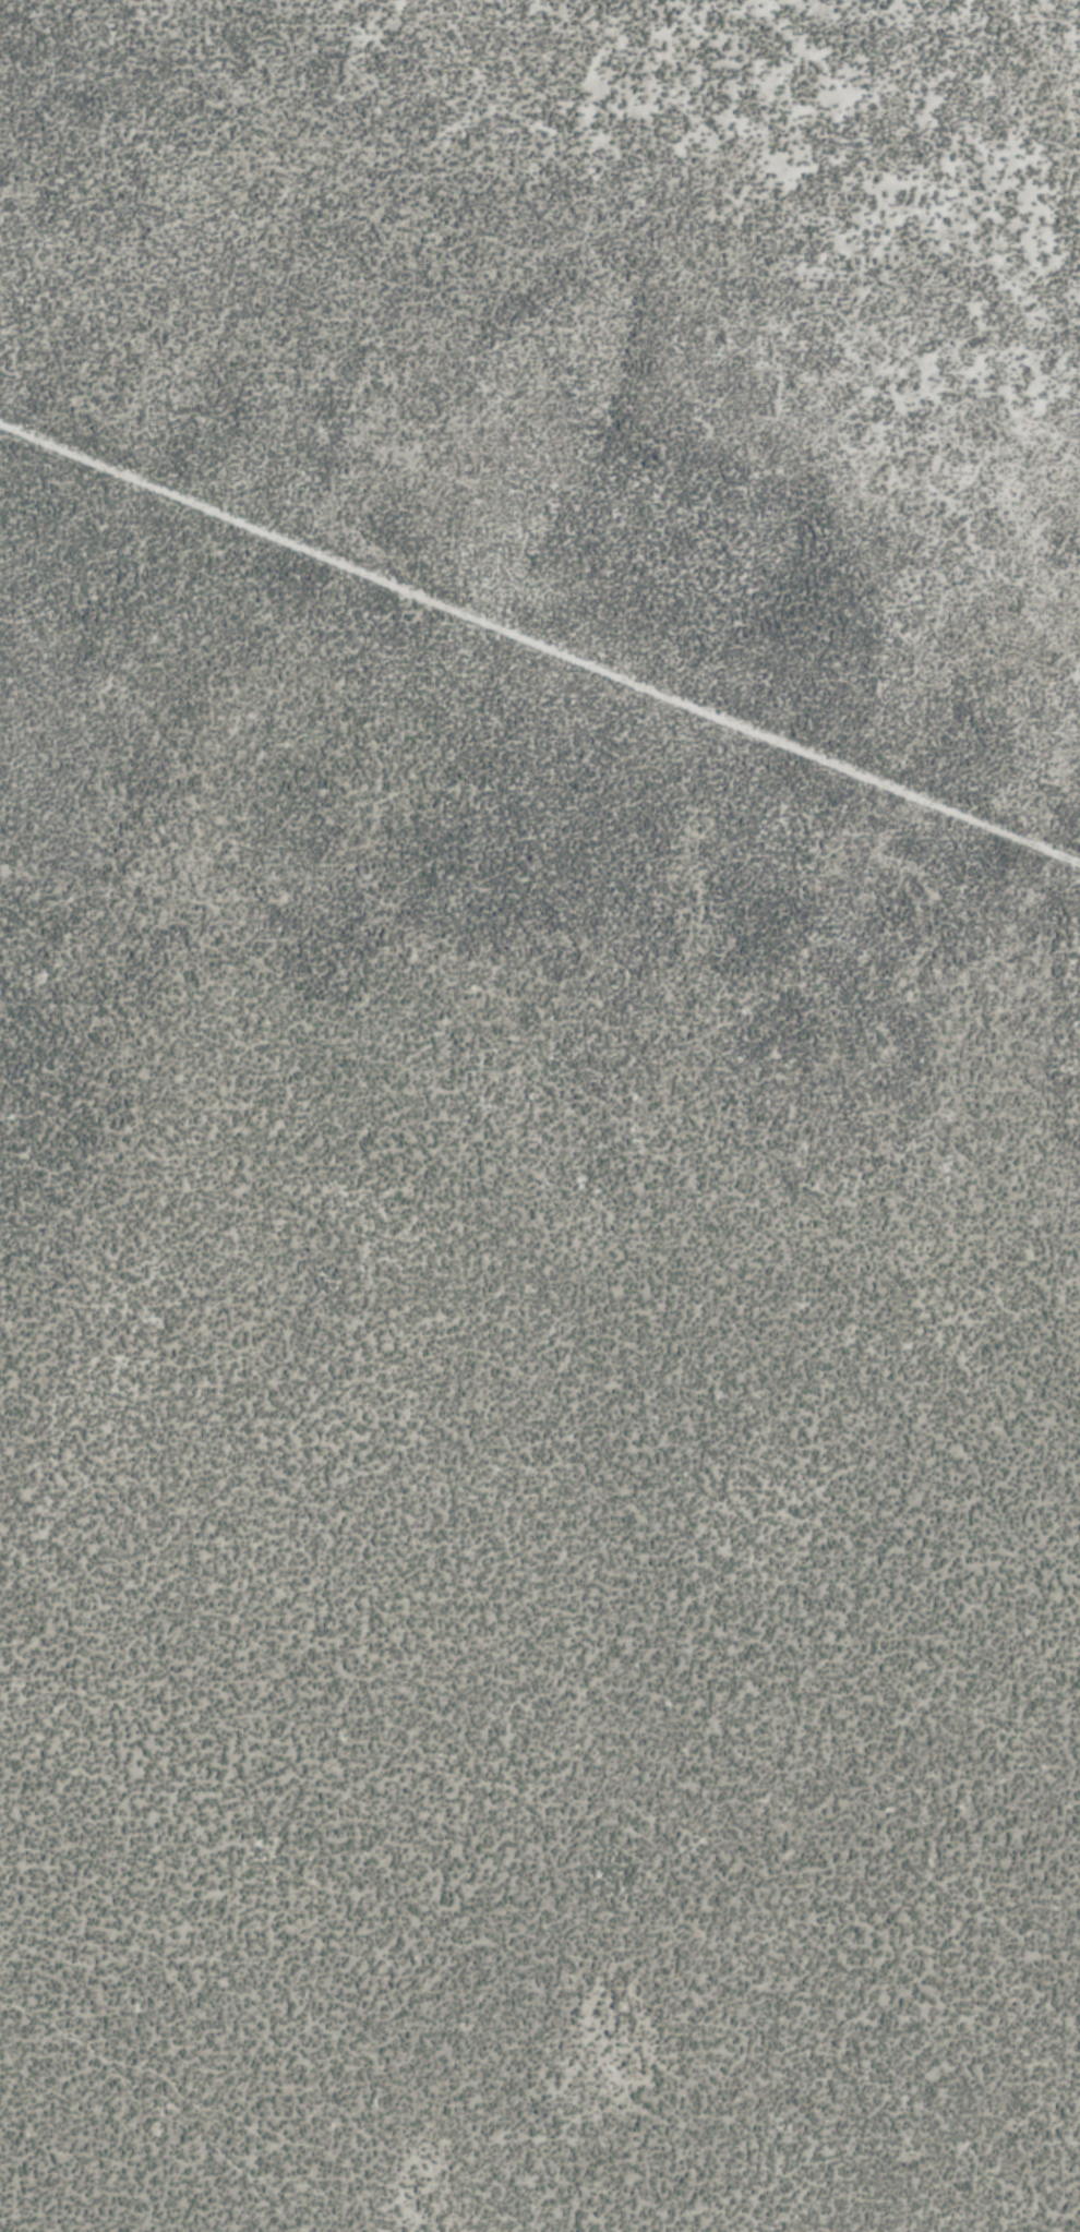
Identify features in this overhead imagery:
road: (538, 643)

